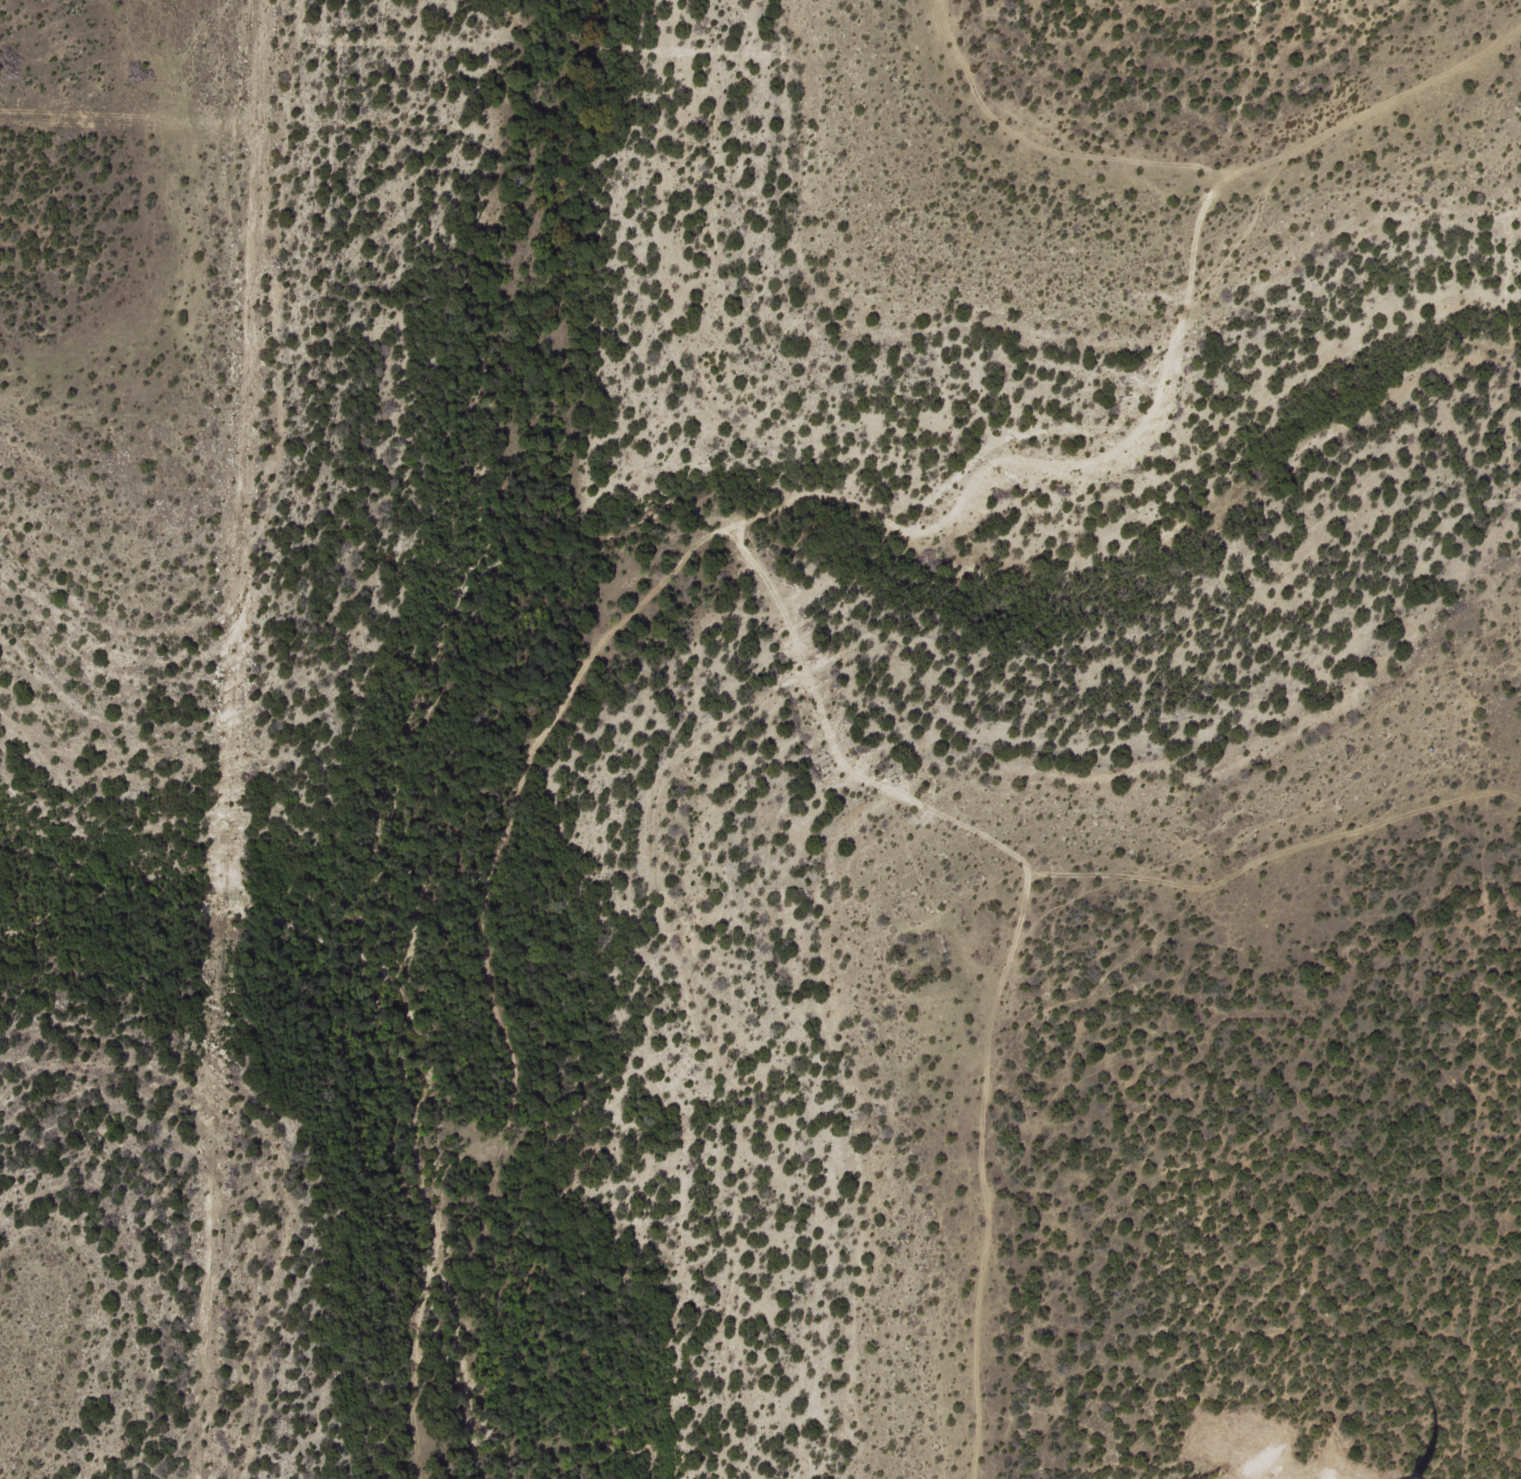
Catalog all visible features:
road: (1048, 153)
road: (722, 583)
road: (873, 754)
road: (1027, 949)

